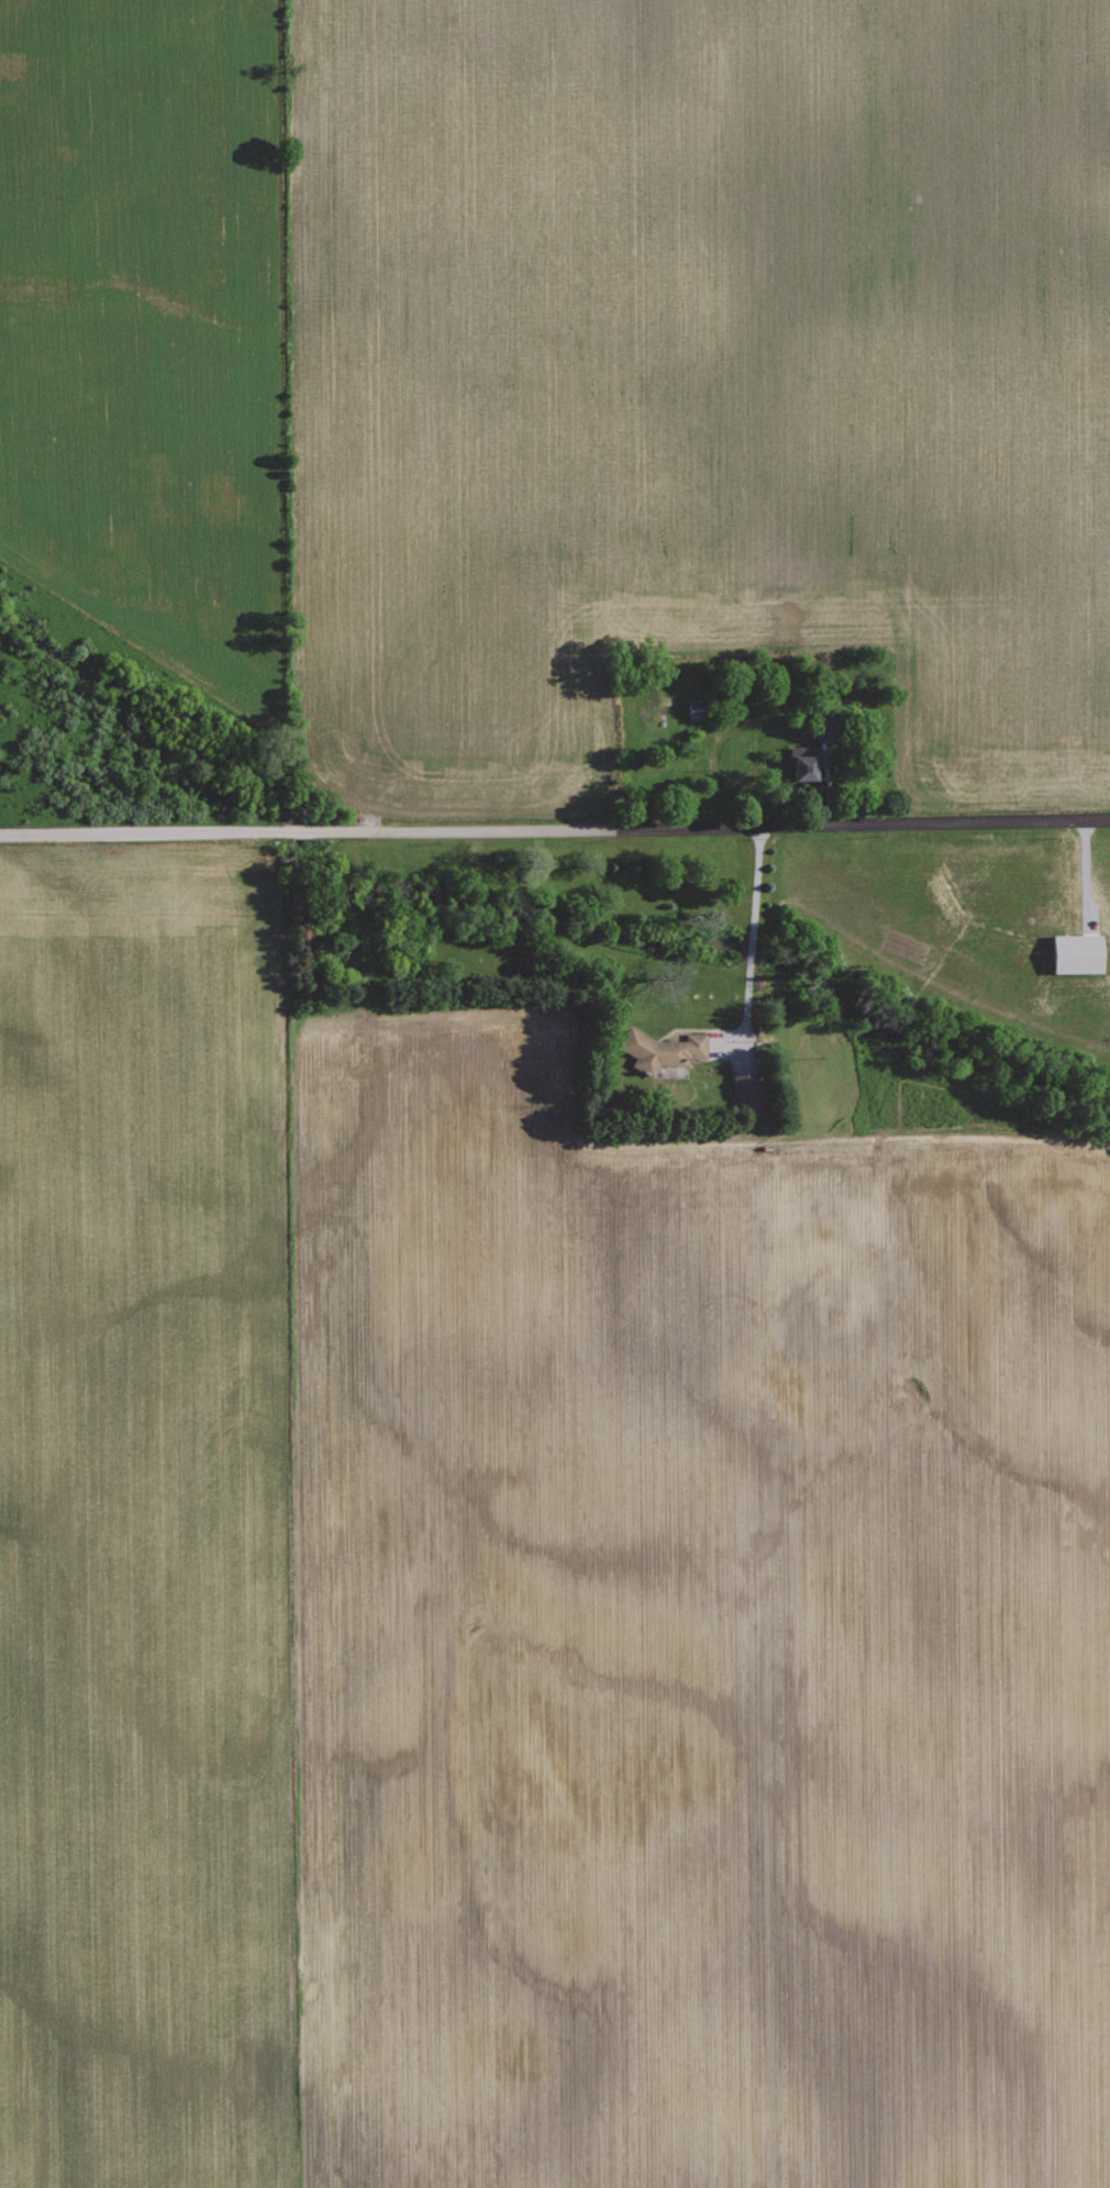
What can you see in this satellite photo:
building: (826, 729)
building: (804, 769)
road: (555, 826)
building: (1078, 953)
building: (663, 1049)
building: (750, 1092)

